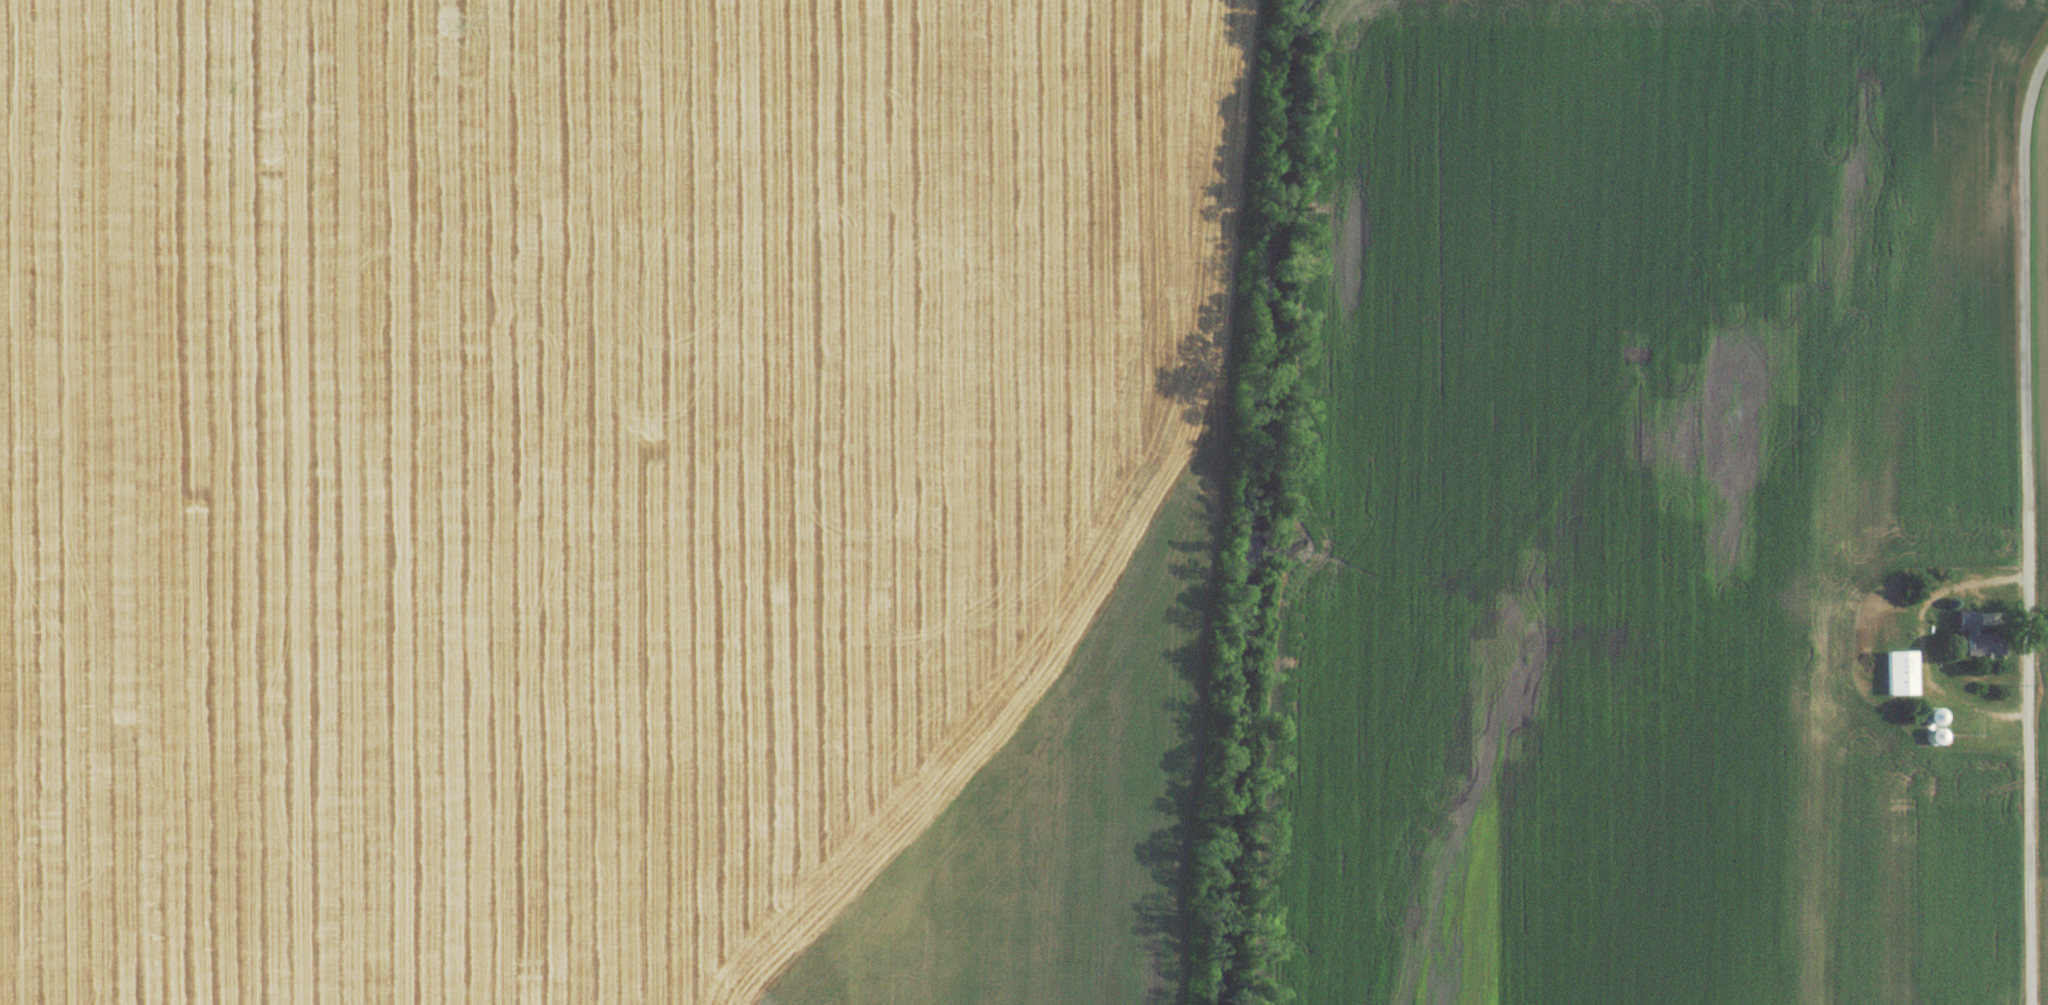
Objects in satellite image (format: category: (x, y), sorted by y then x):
road: (2028, 532)
building: (1975, 644)
building: (1899, 681)
building: (1933, 725)

